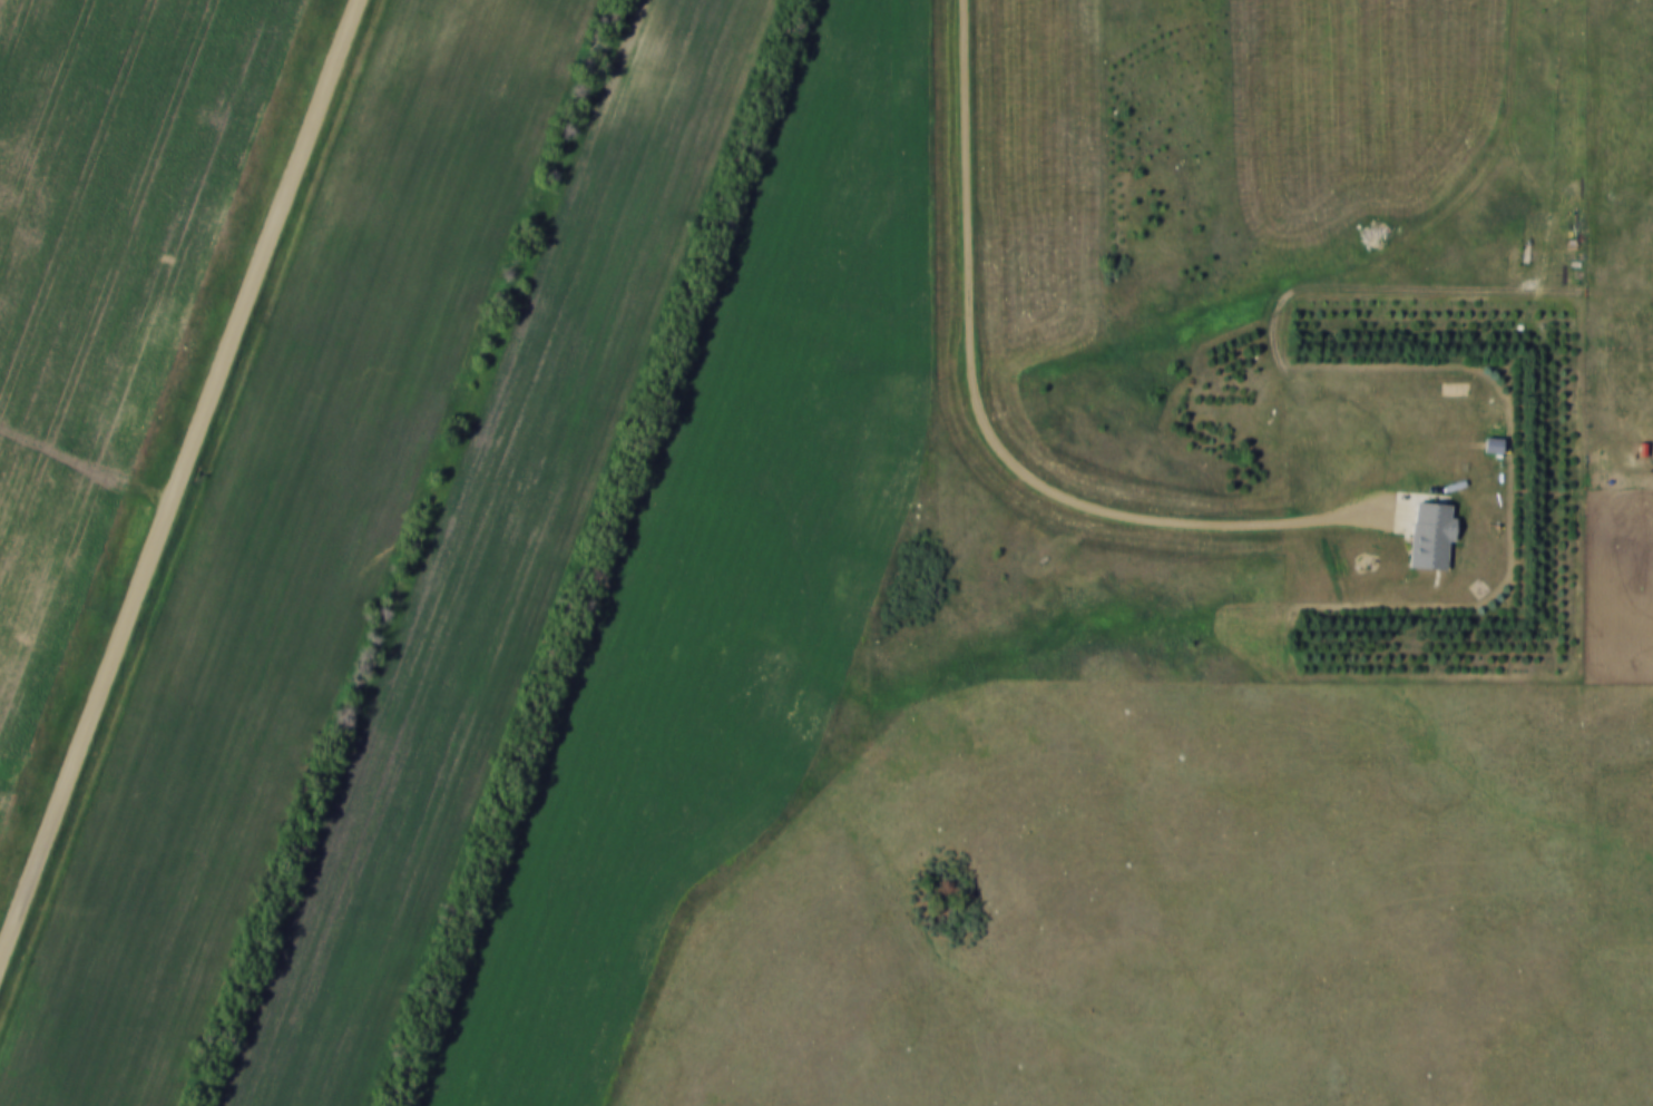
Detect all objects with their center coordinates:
building: (1494, 443)
road: (87, 462)
road: (180, 480)
building: (1431, 534)

